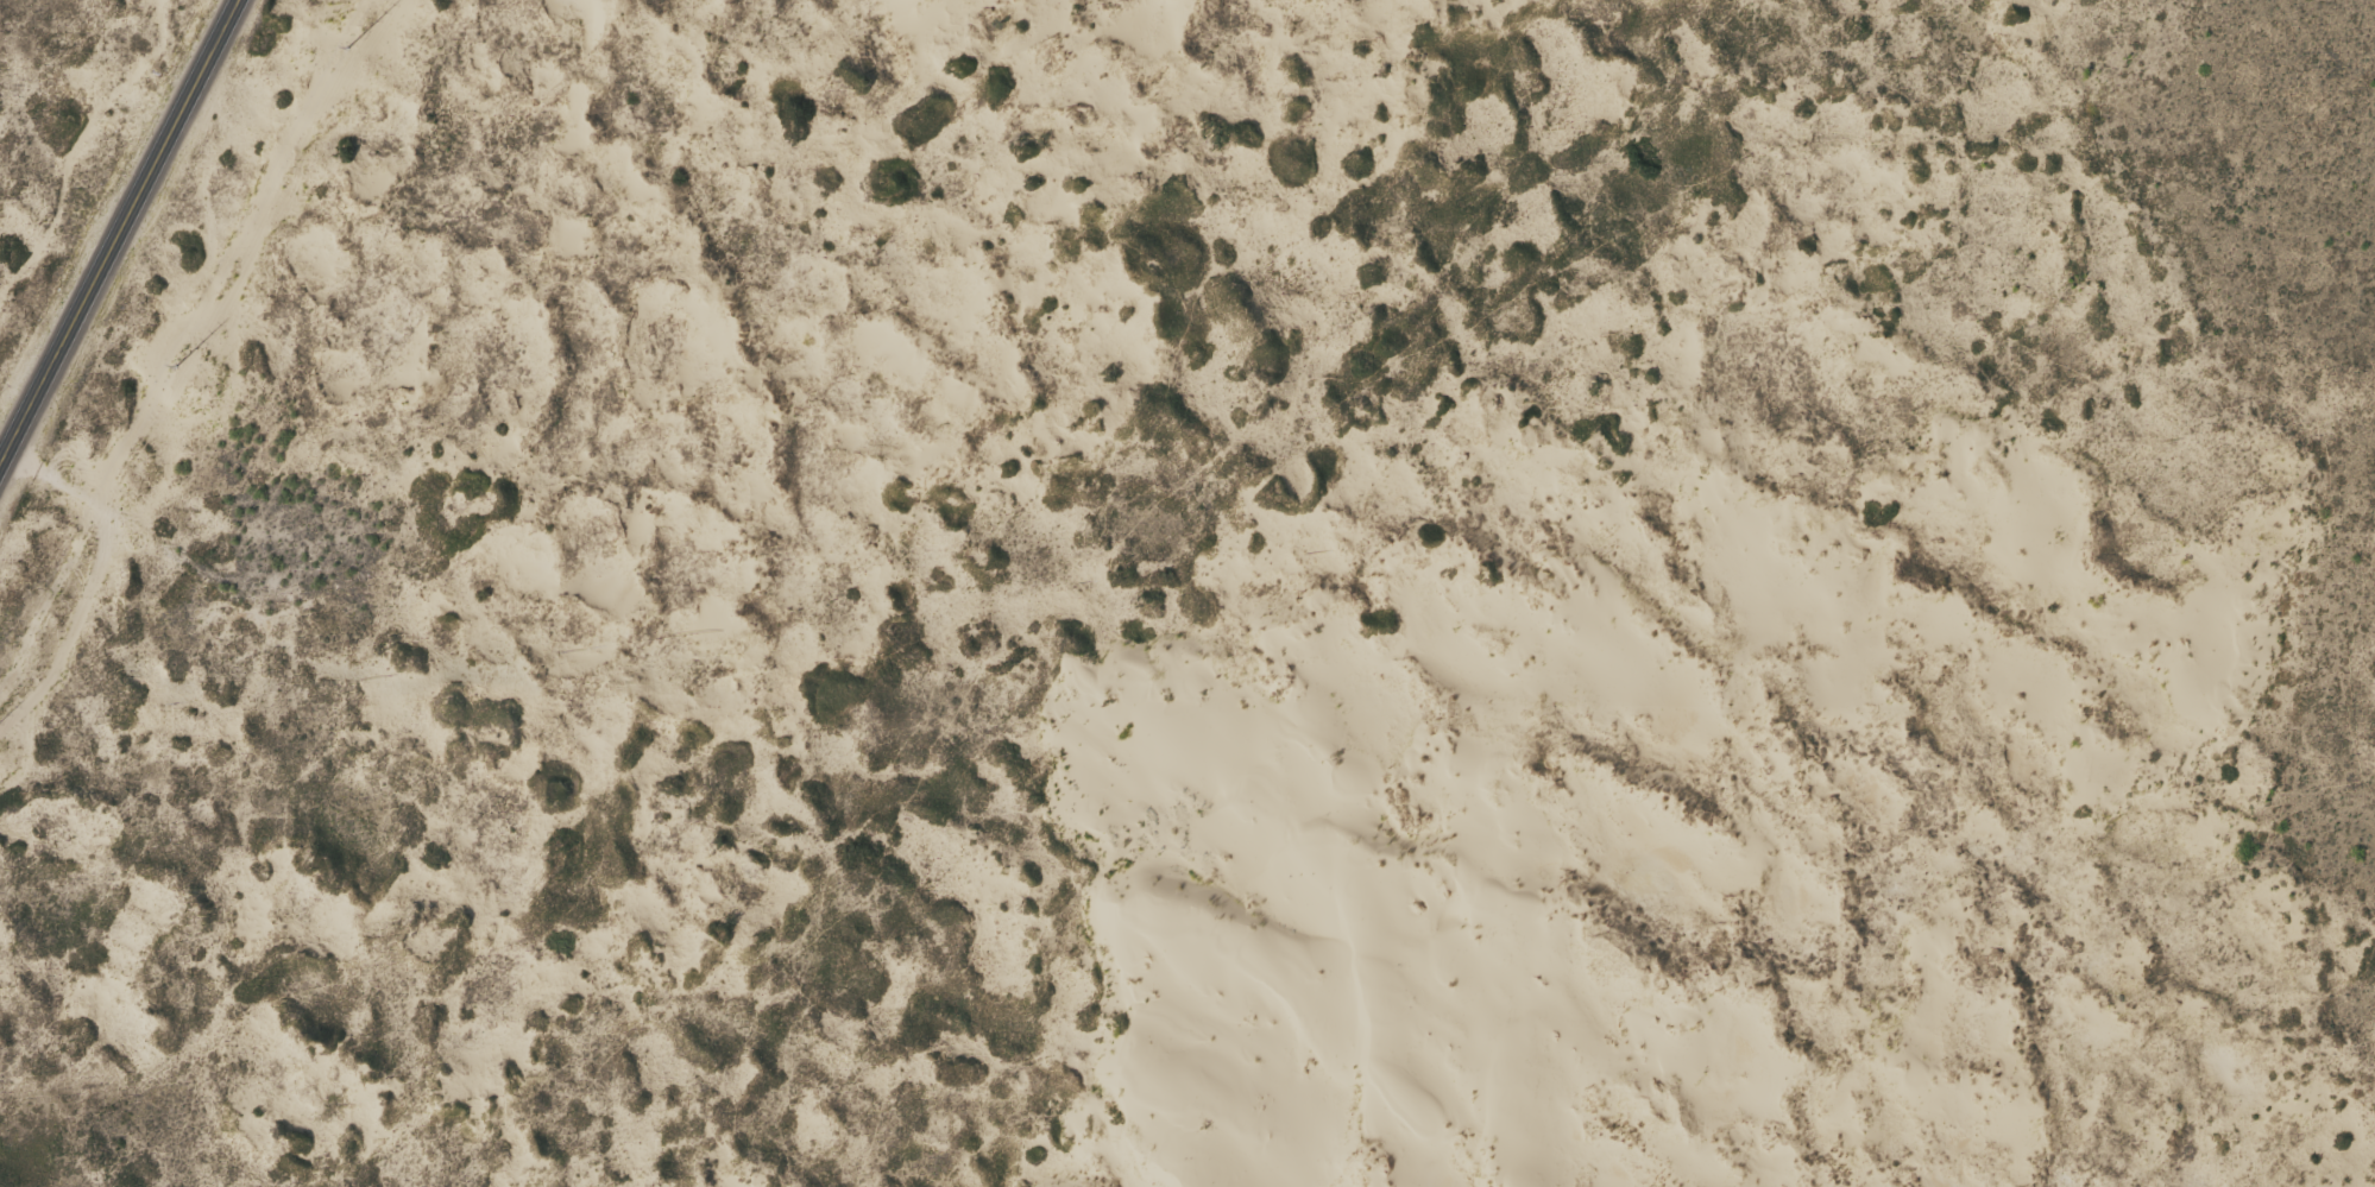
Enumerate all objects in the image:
power tower: (368, 64)
road: (120, 235)
power tower: (200, 381)

